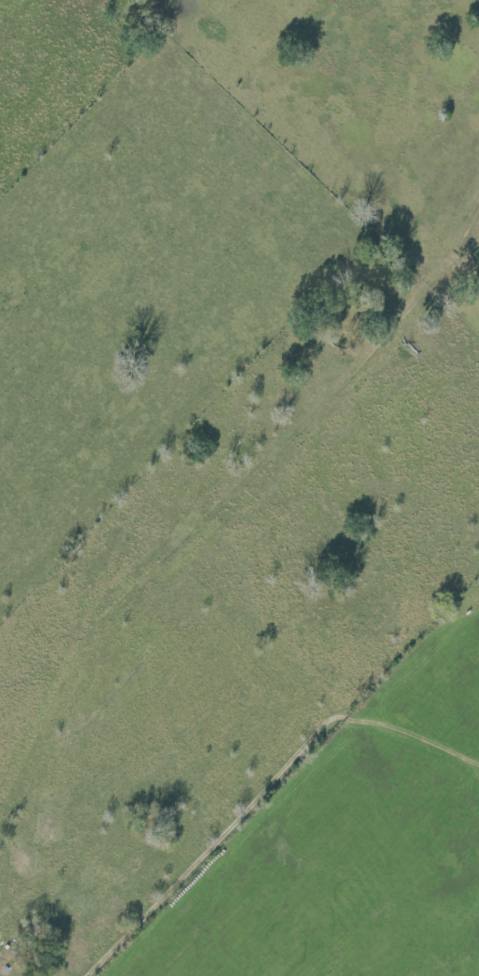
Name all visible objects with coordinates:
road: (290, 777)

